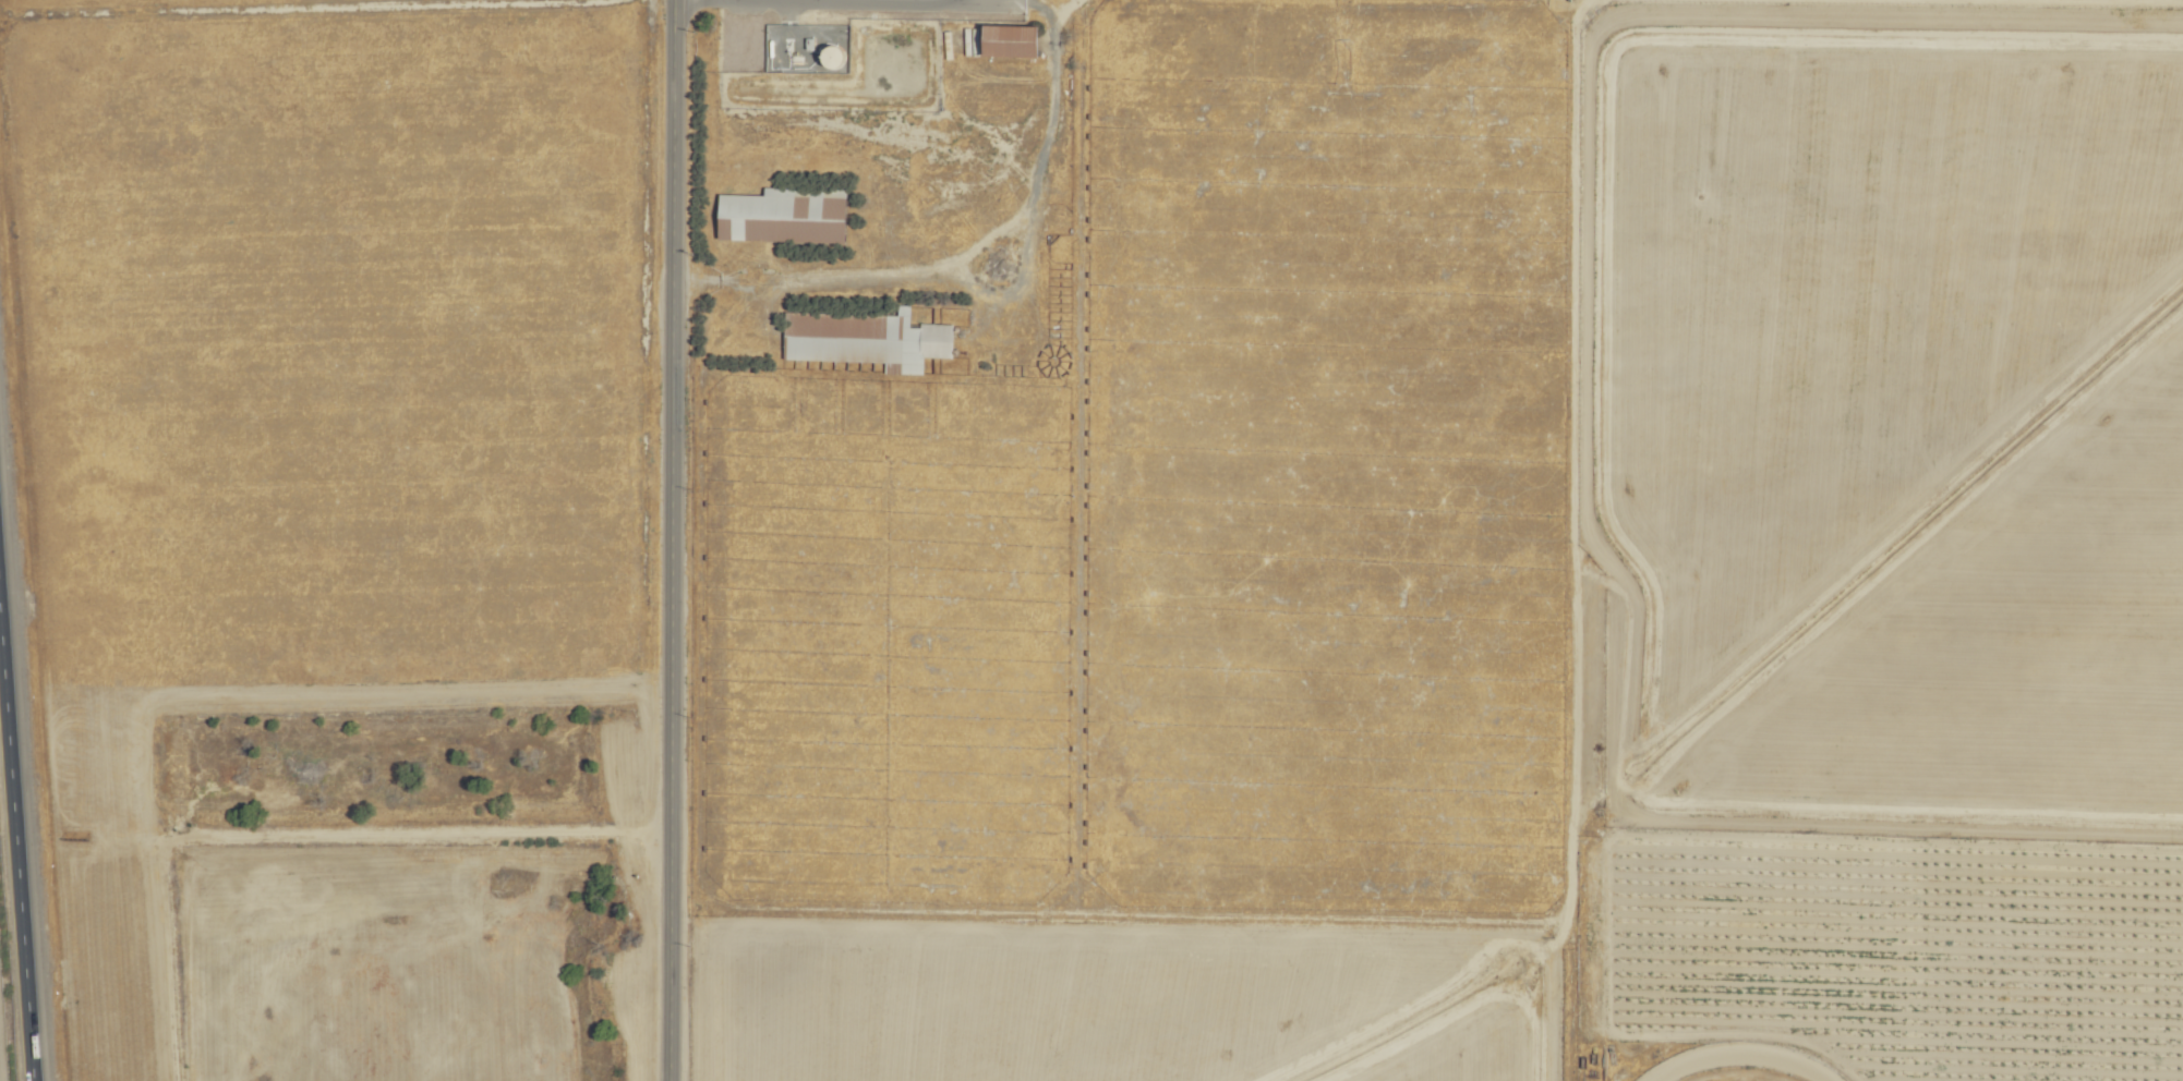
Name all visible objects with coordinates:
road: (807, 3)
building: (1006, 39)
road: (964, 247)
crop: (1444, 525)
crop: (1093, 539)
road: (1569, 539)
road: (670, 540)
road: (16, 854)

